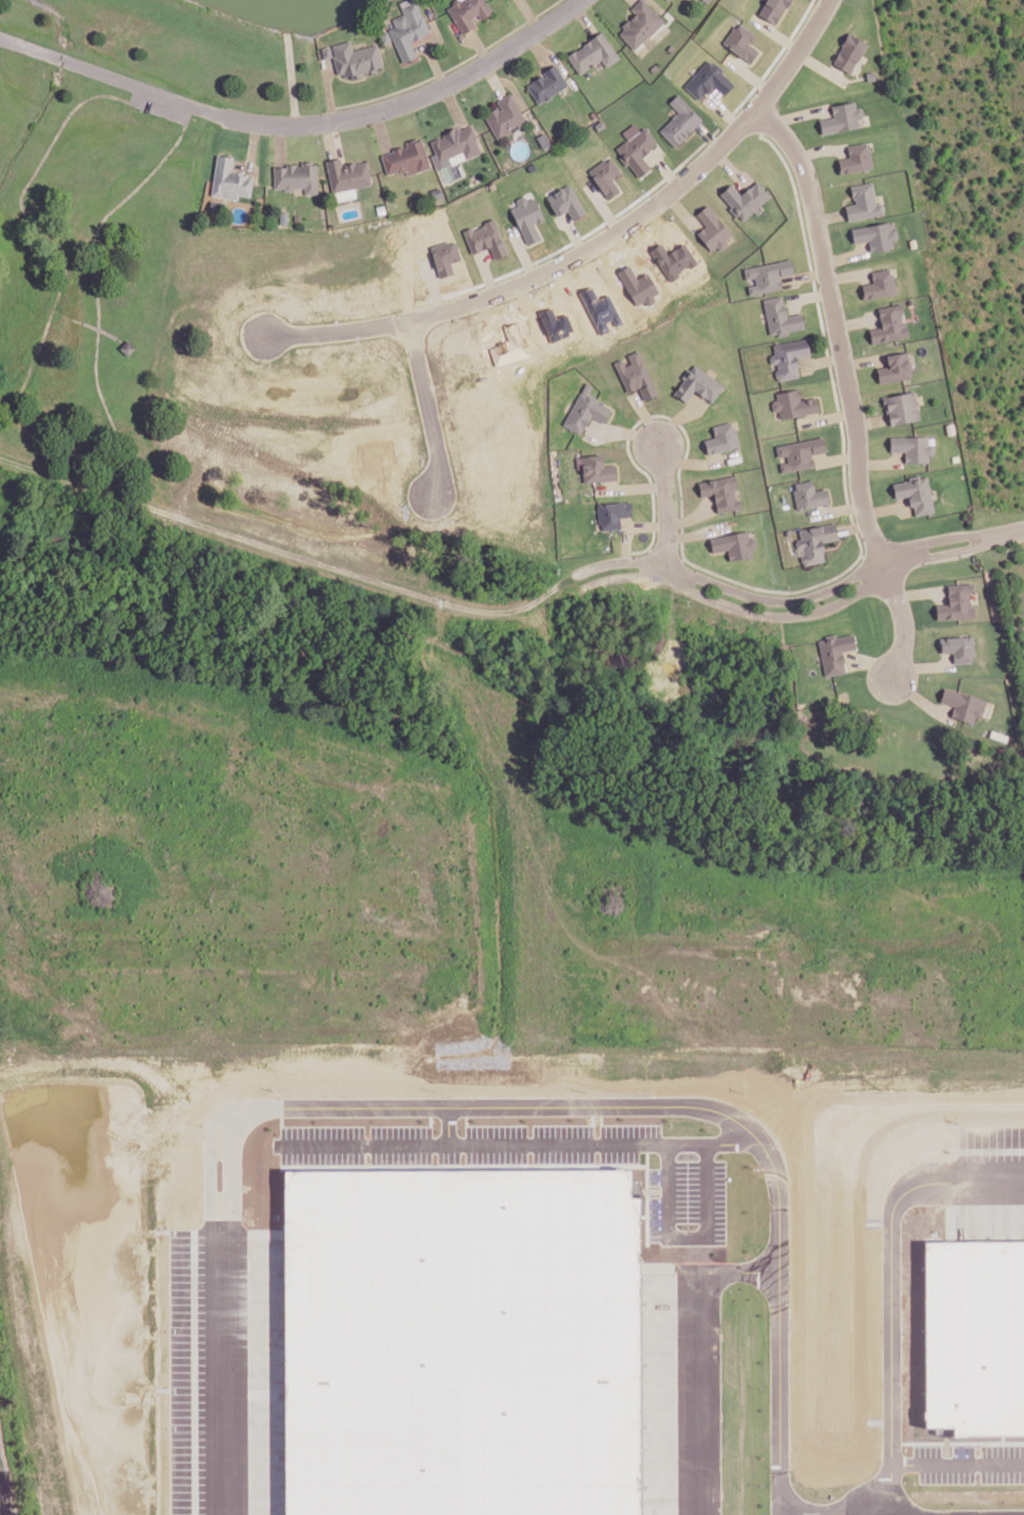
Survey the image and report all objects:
building: (668, 0)
building: (707, 0)
road: (655, 4)
building: (773, 10)
building: (469, 11)
road: (531, 14)
road: (584, 18)
building: (642, 22)
building: (409, 28)
building: (386, 35)
street lamp: (550, 35)
road: (461, 36)
building: (741, 42)
road: (480, 46)
building: (671, 46)
road: (539, 48)
building: (327, 50)
building: (594, 51)
building: (849, 53)
building: (356, 57)
road: (554, 58)
road: (435, 63)
road: (450, 66)
building: (655, 66)
road: (109, 74)
road: (291, 77)
road: (494, 78)
building: (708, 80)
building: (548, 82)
road: (329, 90)
road: (516, 90)
road: (411, 100)
road: (453, 105)
parking lot: (159, 106)
street lamp: (325, 109)
road: (753, 110)
building: (594, 114)
building: (505, 116)
building: (841, 118)
building: (682, 119)
road: (382, 130)
road: (709, 135)
road: (329, 139)
building: (544, 139)
building: (455, 143)
road: (280, 144)
road: (252, 145)
building: (636, 149)
building: (408, 155)
building: (855, 159)
building: (347, 173)
building: (297, 175)
building: (606, 176)
building: (229, 178)
building: (437, 192)
building: (744, 199)
building: (862, 201)
building: (565, 202)
road: (681, 207)
building: (381, 208)
road: (828, 215)
building: (284, 216)
building: (297, 216)
building: (527, 218)
building: (711, 229)
building: (875, 236)
building: (485, 238)
building: (445, 257)
building: (769, 273)
road: (847, 275)
building: (878, 283)
building: (637, 285)
road: (809, 295)
road: (467, 300)
building: (781, 315)
road: (856, 321)
building: (888, 323)
road: (87, 324)
street lamp: (826, 329)
building: (128, 345)
building: (790, 355)
road: (821, 359)
building: (894, 366)
building: (635, 375)
building: (700, 383)
road: (848, 385)
road: (820, 397)
building: (794, 402)
building: (900, 406)
building: (586, 410)
road: (422, 412)
road: (645, 416)
road: (826, 416)
road: (870, 420)
road: (626, 431)
building: (722, 438)
road: (34, 441)
building: (912, 446)
building: (800, 451)
road: (836, 456)
road: (682, 459)
road: (844, 459)
road: (878, 462)
building: (596, 469)
street lamp: (677, 476)
road: (633, 483)
building: (915, 492)
building: (721, 493)
building: (808, 495)
road: (668, 506)
road: (837, 508)
road: (883, 508)
building: (612, 514)
road: (854, 526)
road: (694, 528)
road: (1011, 530)
street lamp: (888, 534)
road: (943, 536)
building: (816, 539)
building: (733, 545)
road: (283, 550)
road: (947, 552)
road: (882, 560)
road: (619, 561)
road: (619, 576)
road: (776, 599)
building: (956, 602)
road: (778, 614)
building: (958, 648)
building: (836, 650)
road: (871, 661)
building: (963, 705)
road: (499, 1101)
road: (462, 1119)
road: (529, 1136)
road: (703, 1233)
road: (891, 1290)
building: (969, 1331)
building: (452, 1339)
road: (698, 1353)
road: (957, 1463)
railway: (5, 1487)
road: (828, 1513)

